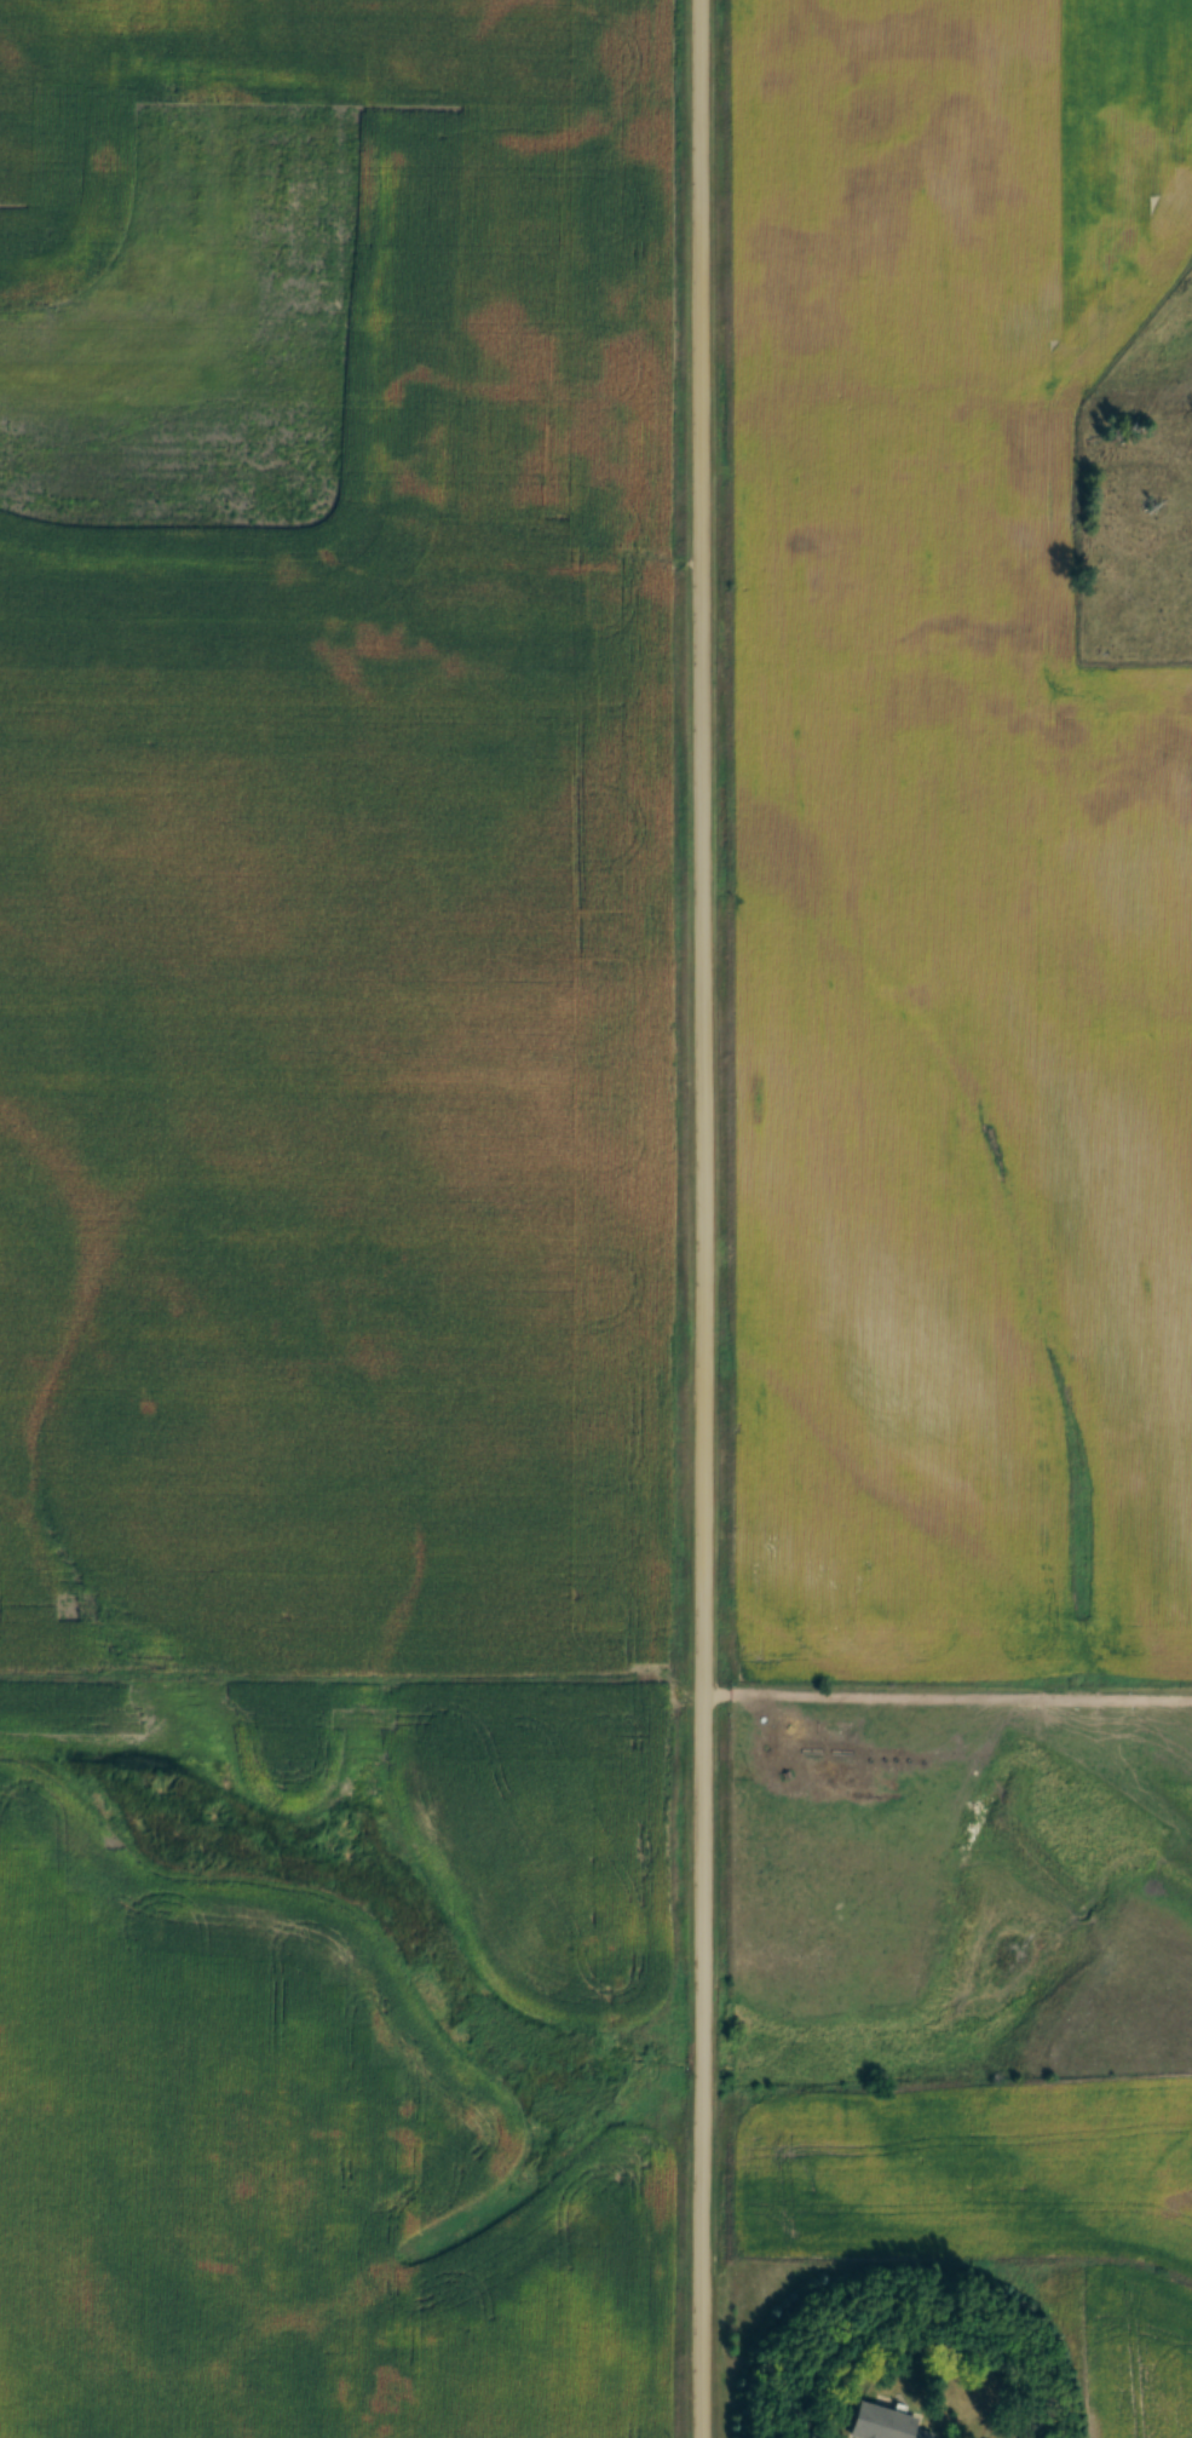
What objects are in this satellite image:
road: (698, 1218)
road: (941, 1697)
building: (880, 2423)

